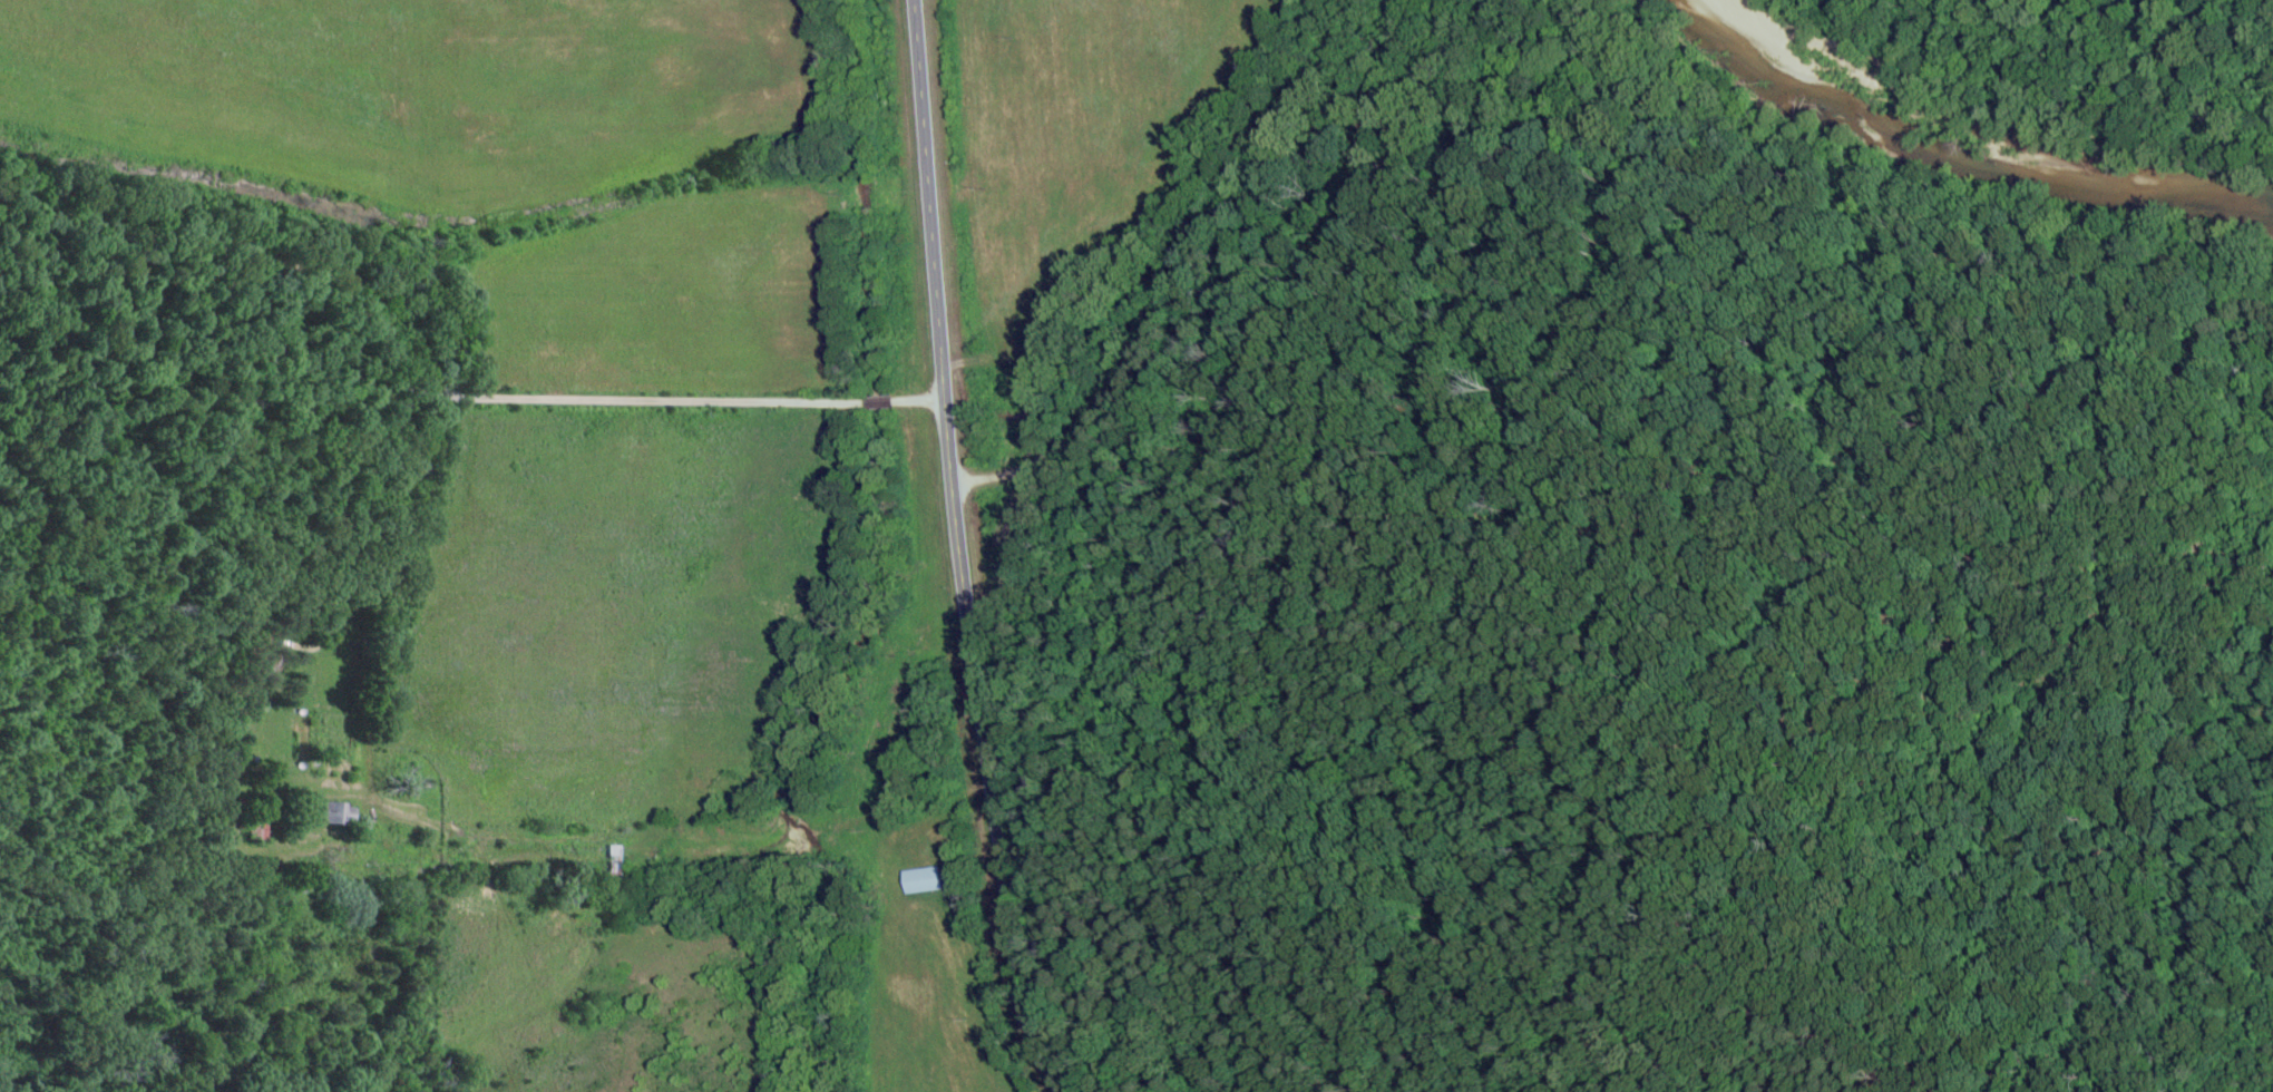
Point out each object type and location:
road: (1162, 275)
road: (436, 396)
road: (954, 550)
road: (972, 788)
building: (339, 813)
building: (260, 832)
building: (618, 862)
building: (923, 881)

